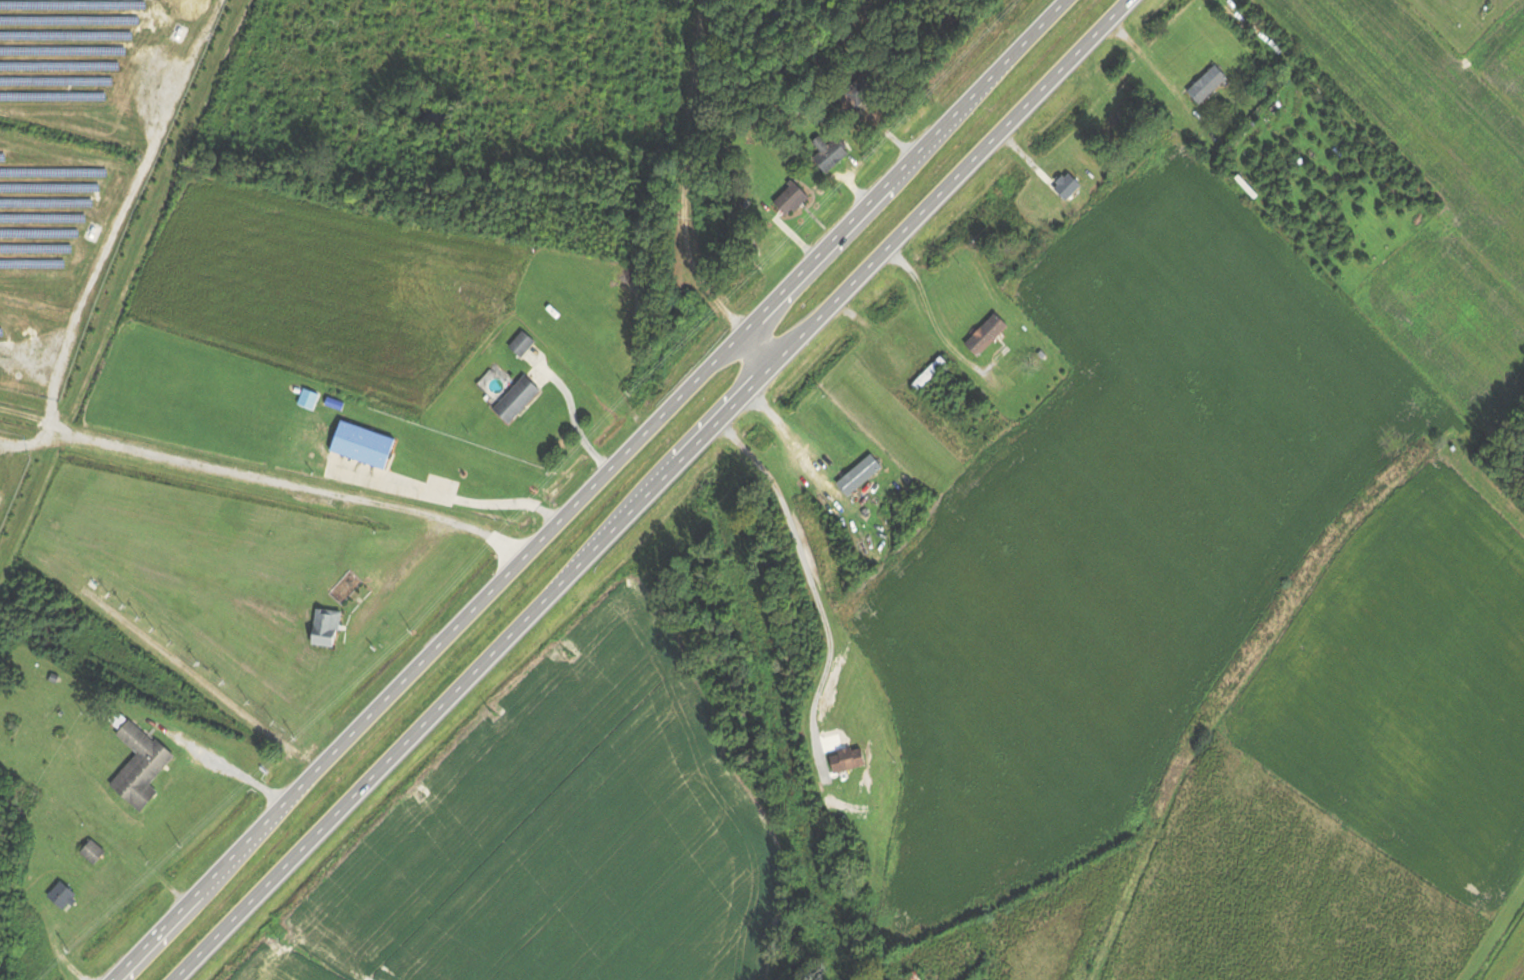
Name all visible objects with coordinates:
building: (1209, 83)
building: (864, 86)
building: (832, 155)
building: (1064, 184)
building: (1247, 186)
building: (793, 198)
road: (676, 202)
building: (988, 334)
building: (524, 342)
building: (930, 373)
building: (520, 398)
building: (365, 444)
building: (862, 474)
road: (307, 489)
road: (587, 489)
road: (662, 490)
road: (447, 498)
building: (346, 587)
building: (328, 628)
building: (849, 760)
building: (141, 763)
building: (95, 852)
building: (65, 895)
building: (916, 976)

